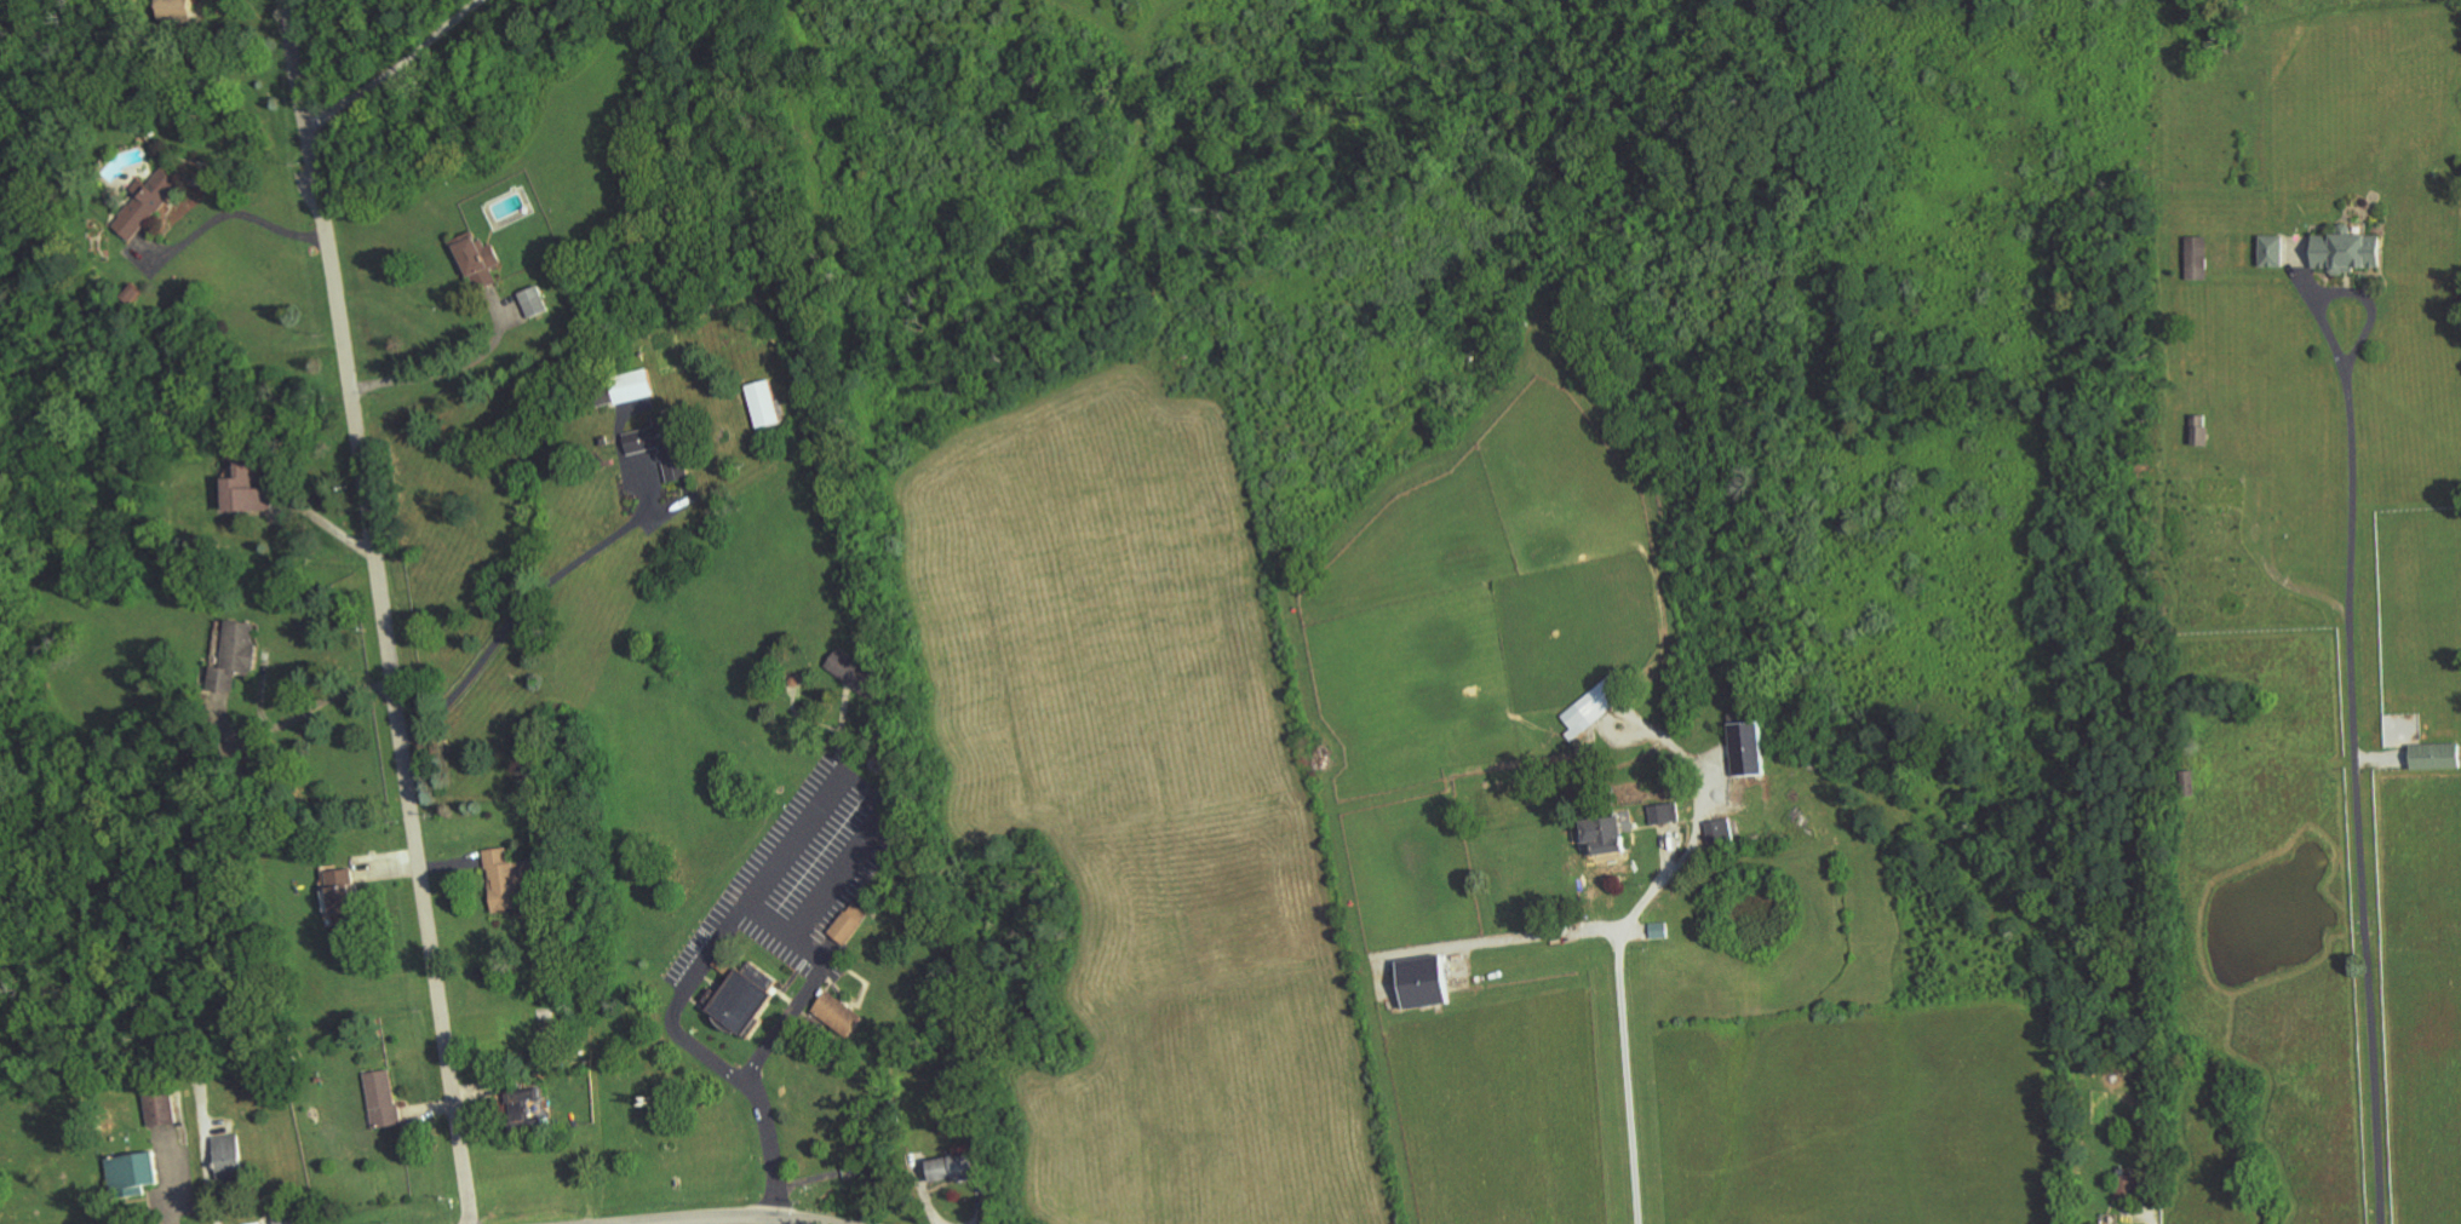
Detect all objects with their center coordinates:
building: (177, 7)
road: (398, 71)
building: (144, 203)
road: (224, 209)
building: (2272, 251)
building: (2348, 251)
building: (2197, 258)
building: (478, 259)
building: (131, 293)
building: (534, 301)
road: (443, 369)
building: (632, 386)
building: (764, 403)
building: (2201, 430)
road: (2352, 443)
building: (662, 446)
building: (246, 490)
road: (521, 607)
road: (384, 610)
building: (235, 655)
building: (854, 672)
road: (305, 709)
building: (1748, 748)
building: (2436, 757)
building: (2187, 783)
road: (864, 792)
building: (1665, 814)
building: (1721, 832)
building: (1607, 835)
building: (505, 881)
building: (343, 898)
road: (2365, 923)
building: (850, 924)
building: (1660, 931)
road: (1541, 935)
road: (699, 962)
building: (1424, 982)
building: (746, 999)
building: (839, 1015)
road: (1622, 1023)
building: (383, 1099)
building: (522, 1107)
building: (160, 1109)
building: (228, 1156)
building: (952, 1168)
road: (205, 1172)
building: (133, 1176)
building: (2128, 1188)
road: (976, 1205)
road: (2158, 1216)
road: (732, 1218)
building: (288, 1219)

